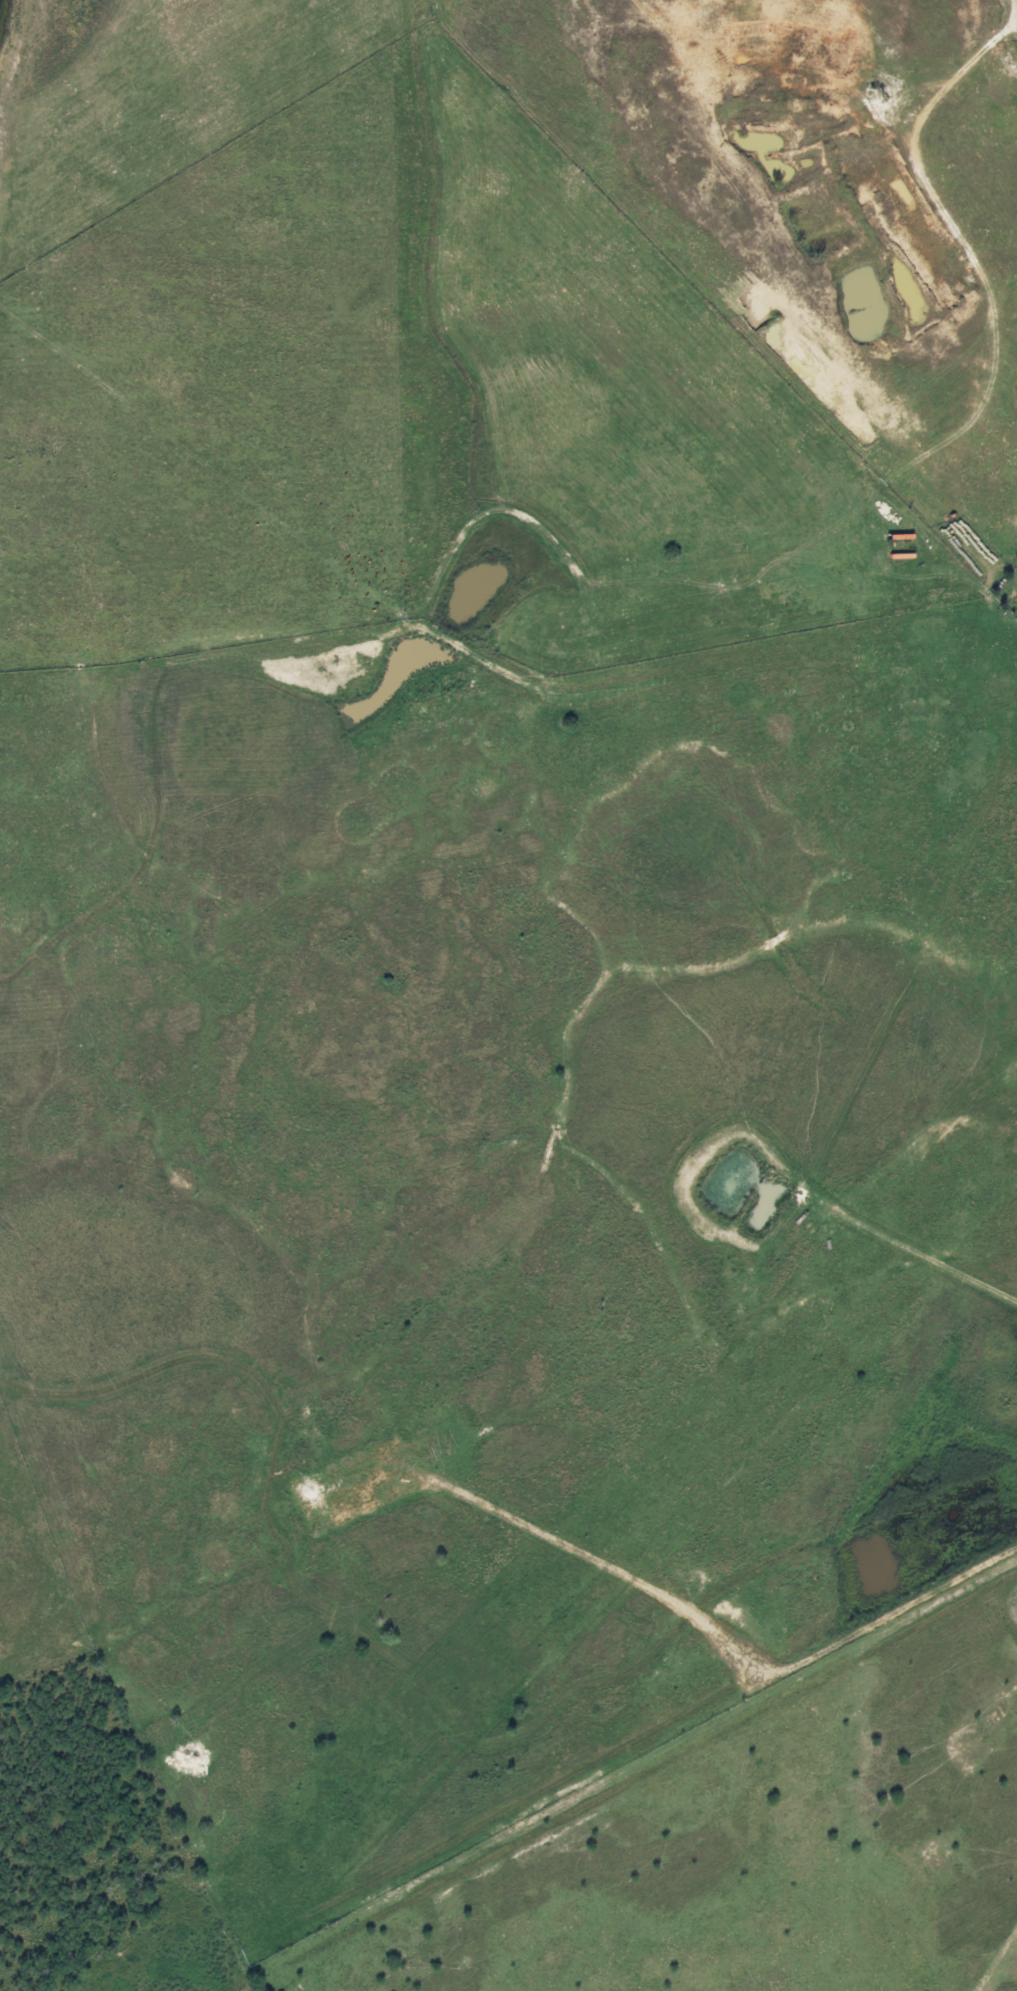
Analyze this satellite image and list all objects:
road: (994, 1291)
road: (997, 1967)

